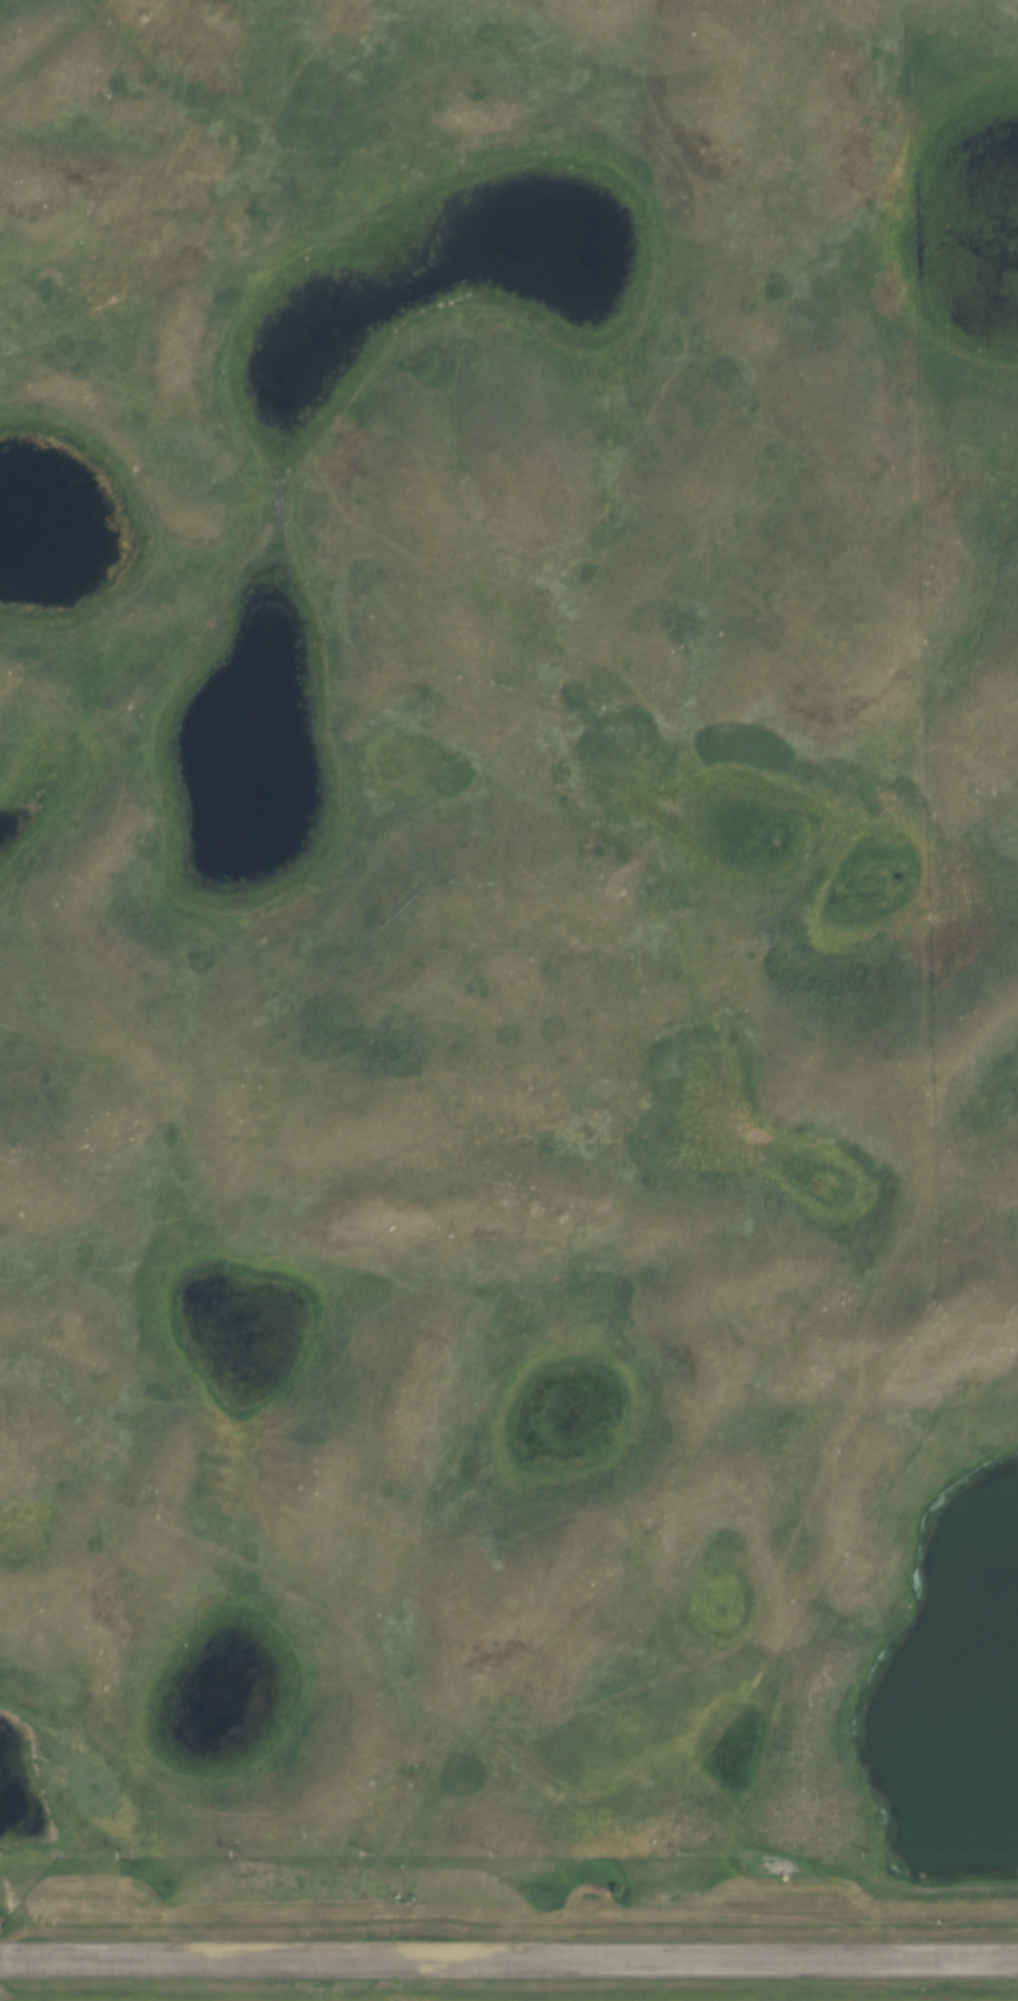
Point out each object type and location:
road: (509, 1959)

